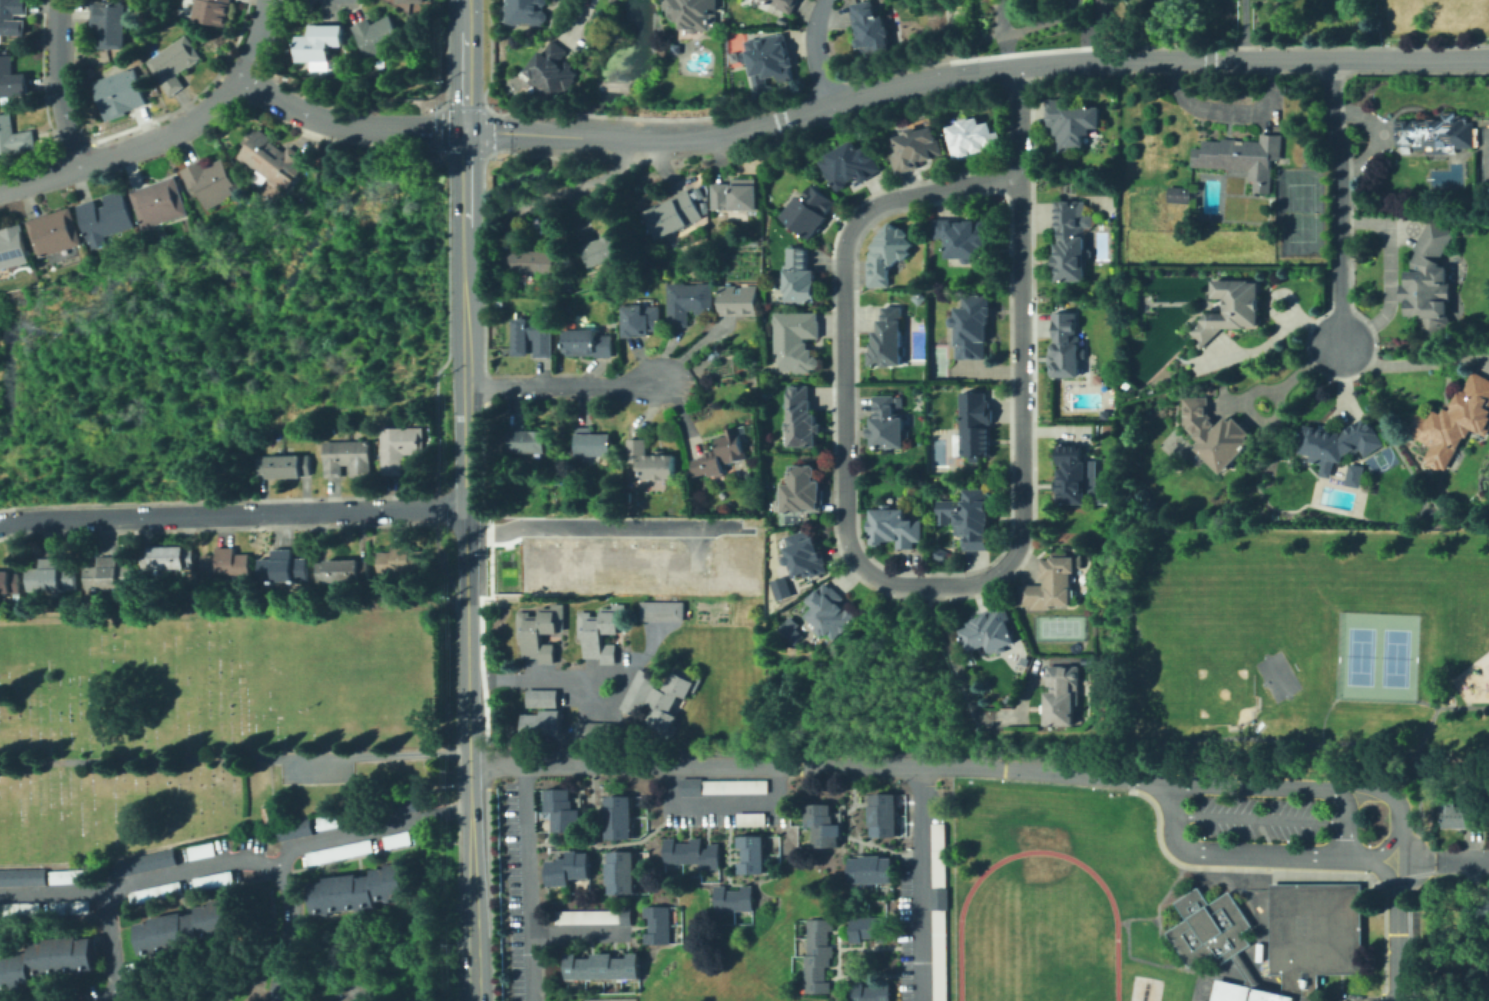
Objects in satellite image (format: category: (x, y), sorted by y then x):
building: (402, 0)
building: (784, 5)
building: (209, 10)
building: (528, 12)
building: (695, 13)
road: (1001, 16)
building: (12, 17)
crop: (1432, 21)
building: (782, 22)
road: (1041, 22)
building: (106, 24)
road: (1244, 28)
building: (872, 31)
building: (376, 34)
road: (257, 38)
building: (317, 42)
building: (675, 49)
road: (1003, 50)
road: (811, 52)
road: (1222, 57)
building: (770, 61)
building: (171, 62)
road: (466, 65)
building: (551, 72)
building: (11, 79)
road: (56, 85)
building: (115, 93)
road: (1021, 119)
building: (1073, 123)
road: (347, 124)
traffic signals: (467, 130)
building: (1442, 133)
road: (1376, 134)
road: (715, 136)
building: (13, 137)
building: (976, 140)
road: (129, 148)
building: (920, 151)
building: (270, 158)
building: (1245, 158)
road: (467, 163)
building: (854, 164)
building: (210, 179)
road: (600, 186)
building: (698, 193)
building: (738, 193)
building: (1180, 195)
building: (157, 200)
road: (1339, 200)
building: (703, 205)
park: (1298, 211)
building: (811, 212)
building: (673, 214)
building: (104, 216)
building: (52, 233)
building: (964, 238)
building: (1074, 241)
building: (11, 247)
building: (600, 249)
building: (889, 255)
building: (533, 262)
road: (1386, 268)
building: (803, 277)
building: (1432, 279)
building: (741, 299)
building: (689, 301)
building: (1235, 308)
building: (642, 320)
building: (972, 327)
building: (534, 336)
building: (798, 338)
building: (889, 338)
building: (588, 343)
building: (1068, 346)
road: (1409, 363)
road: (465, 380)
road: (563, 385)
building: (804, 417)
building: (888, 423)
building: (1455, 423)
building: (979, 425)
building: (1218, 434)
building: (1339, 441)
building: (528, 442)
building: (594, 444)
building: (397, 445)
building: (345, 455)
building: (724, 455)
park: (1378, 459)
building: (651, 460)
building: (282, 464)
building: (1354, 475)
building: (1080, 479)
building: (803, 490)
road: (232, 513)
building: (977, 518)
road: (601, 525)
building: (897, 528)
road: (694, 542)
building: (940, 554)
building: (805, 556)
building: (168, 557)
building: (401, 559)
building: (223, 564)
building: (281, 566)
building: (340, 569)
building: (105, 572)
road: (871, 572)
building: (47, 574)
building: (8, 580)
building: (1053, 585)
building: (780, 589)
park: (1243, 590)
building: (661, 611)
building: (833, 612)
park: (1057, 626)
building: (791, 631)
building: (992, 631)
building: (540, 632)
building: (600, 633)
park: (1292, 643)
park: (1358, 655)
park: (1393, 657)
park: (1196, 669)
road: (964, 674)
park: (1276, 674)
park: (1162, 675)
road: (571, 679)
building: (639, 693)
building: (1064, 696)
building: (671, 697)
building: (542, 698)
road: (1425, 703)
road: (1321, 718)
park: (212, 720)
building: (541, 724)
road: (1449, 725)
building: (596, 731)
road: (372, 754)
road: (1416, 756)
road: (821, 764)
road: (469, 783)
road: (1332, 786)
building: (723, 787)
road: (721, 801)
building: (397, 805)
building: (269, 809)
building: (565, 811)
road: (1156, 813)
building: (884, 815)
road: (1259, 815)
building: (1464, 816)
building: (621, 817)
road: (1344, 818)
building: (753, 819)
building: (327, 820)
parking lot: (1258, 821)
building: (824, 826)
building: (292, 827)
road: (355, 831)
building: (394, 838)
road: (438, 841)
road: (1385, 843)
building: (198, 849)
building: (336, 850)
park: (1038, 851)
road: (1241, 851)
building: (694, 853)
building: (754, 854)
road: (1460, 858)
road: (1416, 859)
building: (143, 861)
road: (257, 861)
building: (571, 869)
building: (873, 870)
road: (1384, 871)
building: (623, 873)
building: (21, 875)
building: (66, 875)
building: (211, 878)
road: (525, 882)
road: (919, 882)
building: (358, 888)
road: (52, 891)
building: (154, 891)
building: (736, 899)
building: (67, 905)
building: (18, 908)
building: (1477, 908)
building: (941, 911)
building: (597, 917)
road: (1121, 921)
road: (1159, 922)
track: (1114, 923)
building: (660, 925)
building: (185, 926)
building: (1207, 926)
building: (871, 929)
road: (571, 931)
building: (1312, 933)
road: (1395, 945)
road: (111, 946)
road: (1126, 947)
building: (820, 956)
building: (45, 959)
building: (1241, 966)
building: (605, 967)
building: (1488, 969)
building: (128, 974)
park: (1043, 975)
park: (1202, 985)
building: (1228, 991)
building: (869, 992)
parking lot: (1402, 994)
building: (1267, 995)
road: (1367, 998)
building: (350, 1000)
park: (1193, 1000)

